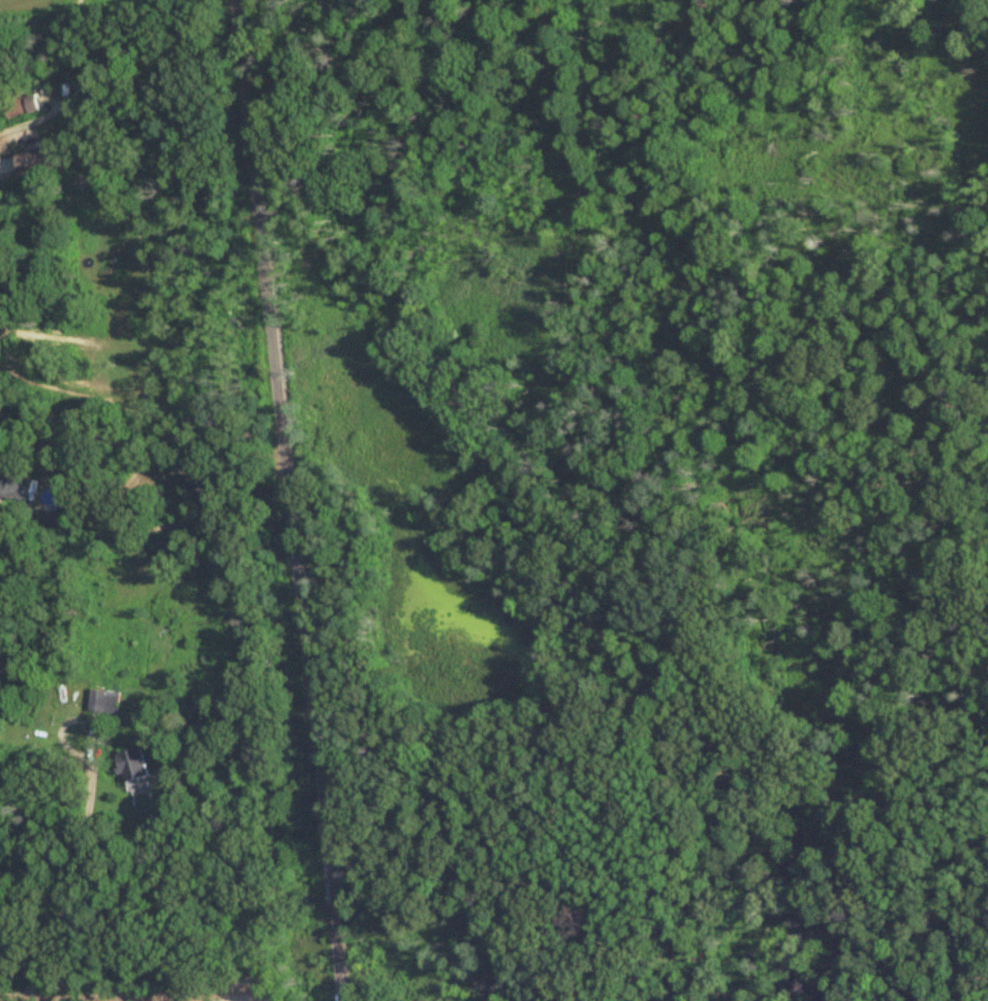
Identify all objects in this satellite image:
building: (20, 106)
road: (33, 120)
building: (37, 158)
building: (16, 489)
road: (287, 500)
building: (104, 702)
building: (132, 766)
road: (72, 867)
road: (136, 1000)

